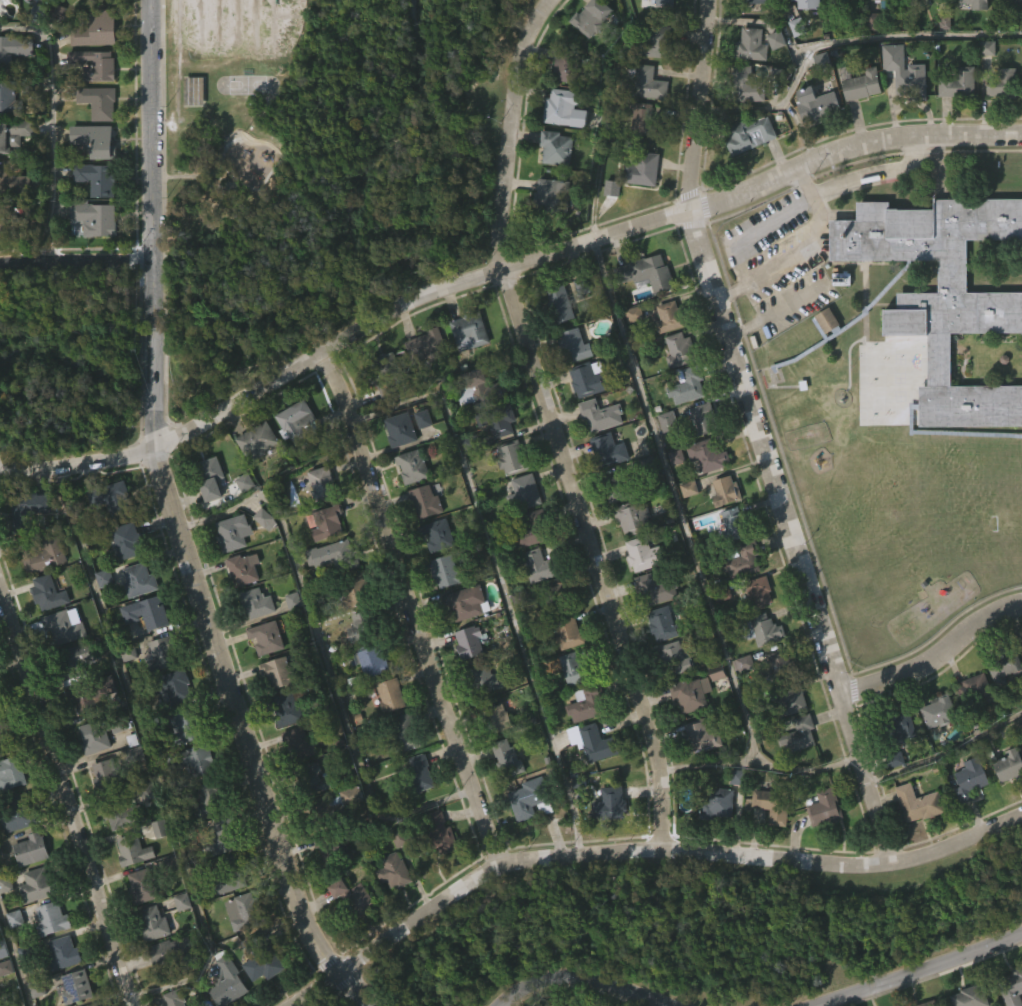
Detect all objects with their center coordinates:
building: (757, 3)
building: (1018, 3)
building: (809, 4)
building: (882, 4)
building: (976, 4)
building: (846, 5)
building: (5, 17)
building: (597, 17)
building: (85, 18)
building: (29, 20)
building: (921, 23)
building: (881, 25)
building: (1008, 25)
building: (656, 27)
building: (754, 27)
building: (838, 27)
building: (99, 29)
building: (802, 29)
building: (967, 30)
road: (842, 41)
building: (657, 42)
building: (752, 45)
building: (14, 47)
building: (588, 55)
building: (96, 64)
building: (793, 66)
building: (570, 67)
building: (773, 79)
building: (904, 79)
building: (647, 82)
building: (960, 82)
building: (1000, 83)
building: (863, 84)
building: (748, 85)
building: (983, 87)
building: (1020, 88)
building: (16, 94)
building: (101, 101)
building: (820, 103)
building: (562, 108)
building: (901, 111)
road: (605, 117)
road: (56, 119)
building: (648, 119)
building: (955, 122)
building: (999, 123)
building: (858, 124)
road: (507, 128)
building: (190, 130)
building: (14, 133)
building: (749, 135)
building: (97, 138)
building: (812, 143)
building: (556, 148)
park: (322, 167)
building: (643, 169)
building: (746, 174)
building: (16, 176)
building: (99, 178)
road: (826, 187)
building: (554, 194)
road: (814, 198)
building: (638, 209)
building: (97, 217)
building: (14, 224)
building: (543, 233)
building: (517, 243)
road: (75, 258)
building: (92, 258)
building: (2, 261)
road: (767, 264)
road: (498, 269)
building: (650, 272)
building: (589, 285)
building: (938, 301)
building: (560, 304)
road: (777, 307)
building: (643, 312)
building: (670, 317)
building: (941, 334)
building: (471, 336)
building: (557, 342)
building: (575, 346)
building: (681, 350)
building: (423, 352)
building: (630, 353)
building: (664, 356)
building: (821, 361)
building: (389, 368)
building: (465, 371)
building: (588, 379)
building: (571, 384)
building: (418, 386)
building: (688, 386)
building: (601, 413)
building: (584, 418)
building: (704, 419)
building: (684, 425)
building: (485, 427)
building: (404, 429)
road: (760, 434)
building: (609, 450)
building: (596, 454)
building: (507, 457)
building: (707, 457)
building: (663, 460)
building: (295, 462)
building: (416, 467)
building: (397, 468)
building: (213, 478)
building: (254, 478)
building: (623, 487)
building: (605, 489)
building: (326, 490)
building: (524, 493)
building: (726, 493)
building: (703, 494)
building: (508, 495)
building: (672, 496)
building: (111, 499)
building: (429, 500)
building: (408, 505)
building: (31, 509)
building: (207, 516)
building: (635, 517)
road: (178, 522)
building: (327, 523)
building: (735, 524)
building: (685, 527)
building: (722, 528)
building: (520, 532)
building: (235, 533)
building: (438, 536)
building: (107, 537)
building: (129, 540)
building: (422, 540)
road: (690, 545)
building: (26, 546)
building: (646, 554)
road: (594, 555)
building: (629, 555)
building: (49, 556)
building: (335, 557)
building: (261, 558)
building: (745, 560)
building: (730, 562)
road: (496, 566)
building: (538, 566)
building: (241, 568)
building: (228, 572)
building: (445, 572)
building: (139, 579)
building: (124, 580)
building: (658, 590)
building: (759, 591)
building: (47, 592)
building: (354, 592)
building: (636, 593)
building: (329, 594)
building: (739, 599)
building: (256, 602)
building: (469, 603)
building: (539, 605)
building: (238, 608)
building: (442, 609)
building: (146, 611)
road: (395, 614)
building: (101, 617)
building: (666, 624)
building: (367, 627)
building: (66, 628)
building: (763, 628)
building: (650, 629)
building: (45, 631)
building: (546, 632)
building: (266, 636)
building: (503, 636)
building: (289, 639)
building: (469, 641)
building: (253, 642)
building: (143, 651)
building: (163, 652)
road: (937, 656)
building: (678, 658)
building: (76, 659)
building: (374, 661)
building: (660, 661)
road: (327, 662)
building: (1002, 664)
building: (357, 666)
building: (777, 667)
building: (759, 668)
building: (561, 670)
building: (280, 672)
building: (262, 676)
building: (487, 679)
building: (465, 681)
building: (170, 685)
building: (697, 690)
building: (972, 692)
building: (93, 693)
building: (391, 695)
building: (670, 697)
building: (791, 698)
building: (366, 699)
building: (1, 701)
building: (739, 702)
building: (774, 705)
building: (287, 707)
building: (1000, 707)
building: (573, 708)
building: (273, 711)
building: (713, 711)
building: (937, 712)
building: (484, 718)
building: (496, 718)
building: (1021, 723)
building: (170, 726)
building: (898, 728)
building: (188, 729)
building: (971, 729)
building: (101, 731)
building: (407, 732)
building: (687, 732)
building: (802, 732)
building: (6, 734)
building: (386, 734)
building: (77, 737)
building: (705, 737)
building: (787, 739)
building: (585, 742)
building: (298, 743)
building: (282, 748)
building: (933, 751)
road: (948, 751)
road: (153, 756)
building: (492, 757)
building: (508, 758)
building: (196, 761)
building: (1010, 764)
road: (808, 768)
building: (403, 770)
building: (417, 773)
building: (697, 773)
building: (12, 774)
building: (794, 774)
building: (898, 774)
building: (89, 776)
building: (108, 777)
building: (311, 779)
building: (972, 779)
building: (294, 781)
building: (591, 782)
road: (66, 795)
building: (504, 795)
building: (533, 799)
building: (194, 800)
building: (209, 801)
building: (717, 802)
building: (1005, 803)
building: (773, 804)
building: (920, 804)
building: (101, 808)
building: (825, 808)
building: (416, 812)
building: (19, 813)
building: (121, 813)
building: (621, 815)
building: (732, 815)
building: (330, 816)
building: (966, 818)
building: (349, 834)
building: (439, 834)
building: (524, 837)
building: (226, 838)
building: (203, 840)
building: (606, 842)
building: (712, 842)
building: (914, 842)
building: (768, 844)
building: (821, 846)
road: (635, 848)
building: (31, 849)
building: (135, 851)
building: (15, 852)
building: (112, 857)
building: (156, 867)
building: (395, 871)
building: (436, 871)
building: (230, 874)
building: (37, 884)
building: (145, 885)
building: (129, 890)
building: (351, 896)
building: (390, 909)
building: (245, 911)
building: (54, 918)
building: (4, 921)
building: (31, 922)
building: (153, 923)
building: (137, 924)
building: (349, 935)
building: (2, 950)
building: (239, 950)
building: (173, 951)
building: (63, 953)
road: (16, 954)
building: (12, 957)
building: (48, 957)
building: (264, 957)
building: (149, 962)
road: (919, 970)
road: (586, 975)
building: (228, 981)
building: (76, 986)
building: (1012, 987)
building: (1, 989)
building: (60, 991)
building: (972, 996)
building: (175, 998)
building: (264, 999)
building: (4, 1002)
building: (929, 1003)
building: (197, 1004)
building: (93, 1005)

